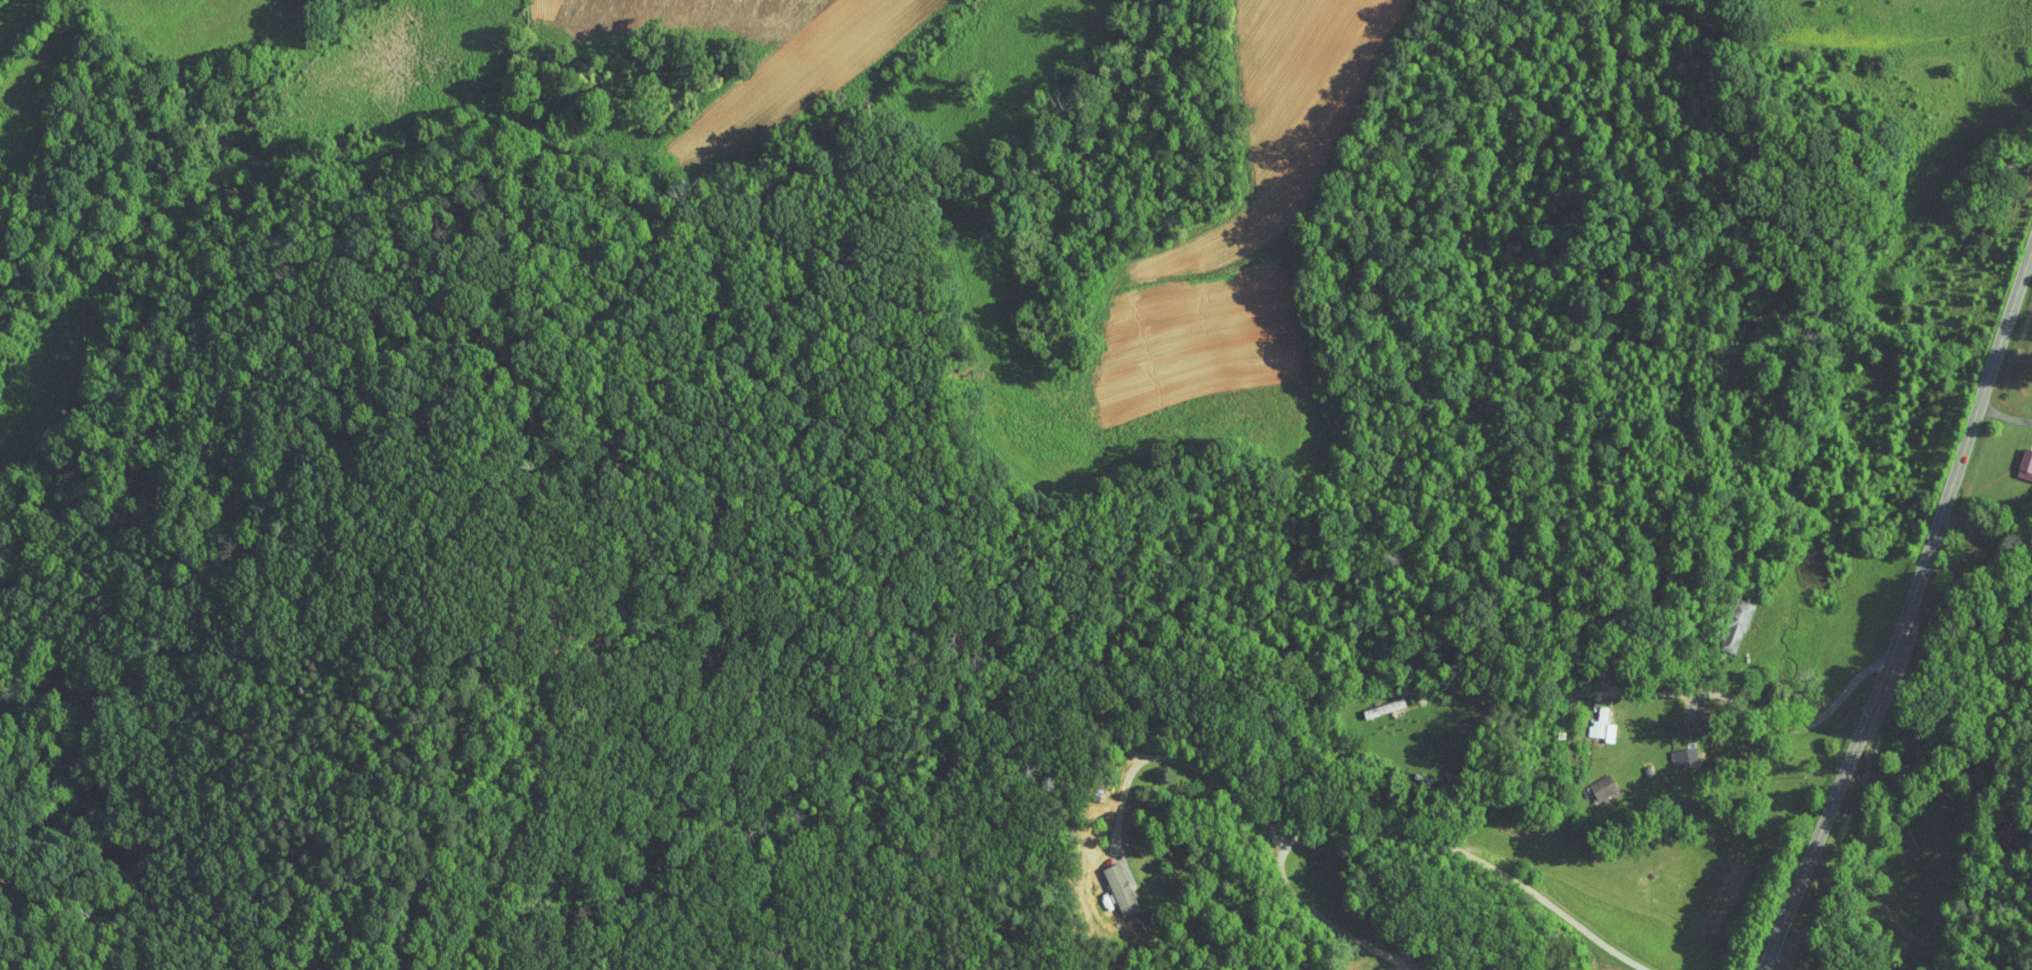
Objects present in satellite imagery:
road: (2006, 416)
building: (2013, 453)
road: (1907, 615)
building: (1724, 619)
road: (1746, 710)
building: (1590, 720)
building: (1670, 753)
road: (1186, 761)
building: (1589, 781)
road: (1847, 825)
road: (1415, 831)
building: (1107, 878)

